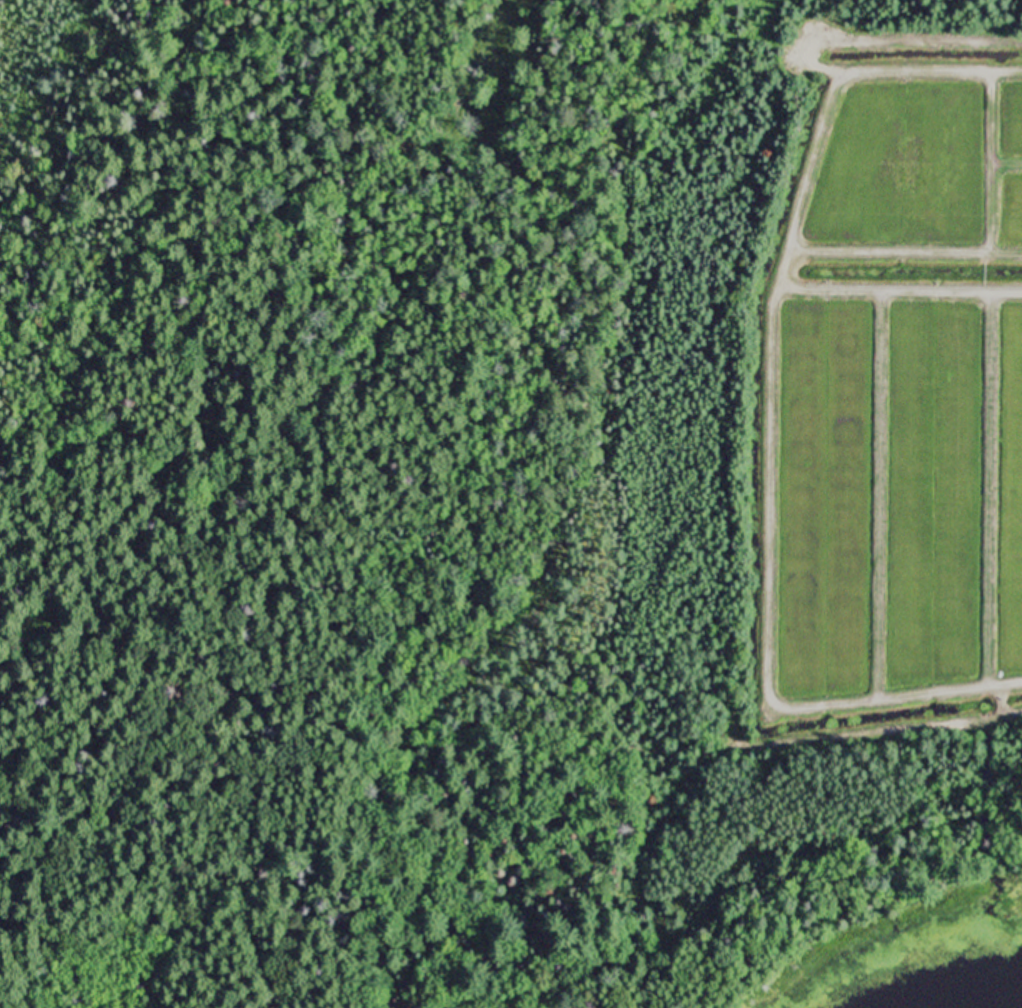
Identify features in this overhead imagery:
crop: (921, 167)
crop: (899, 496)

